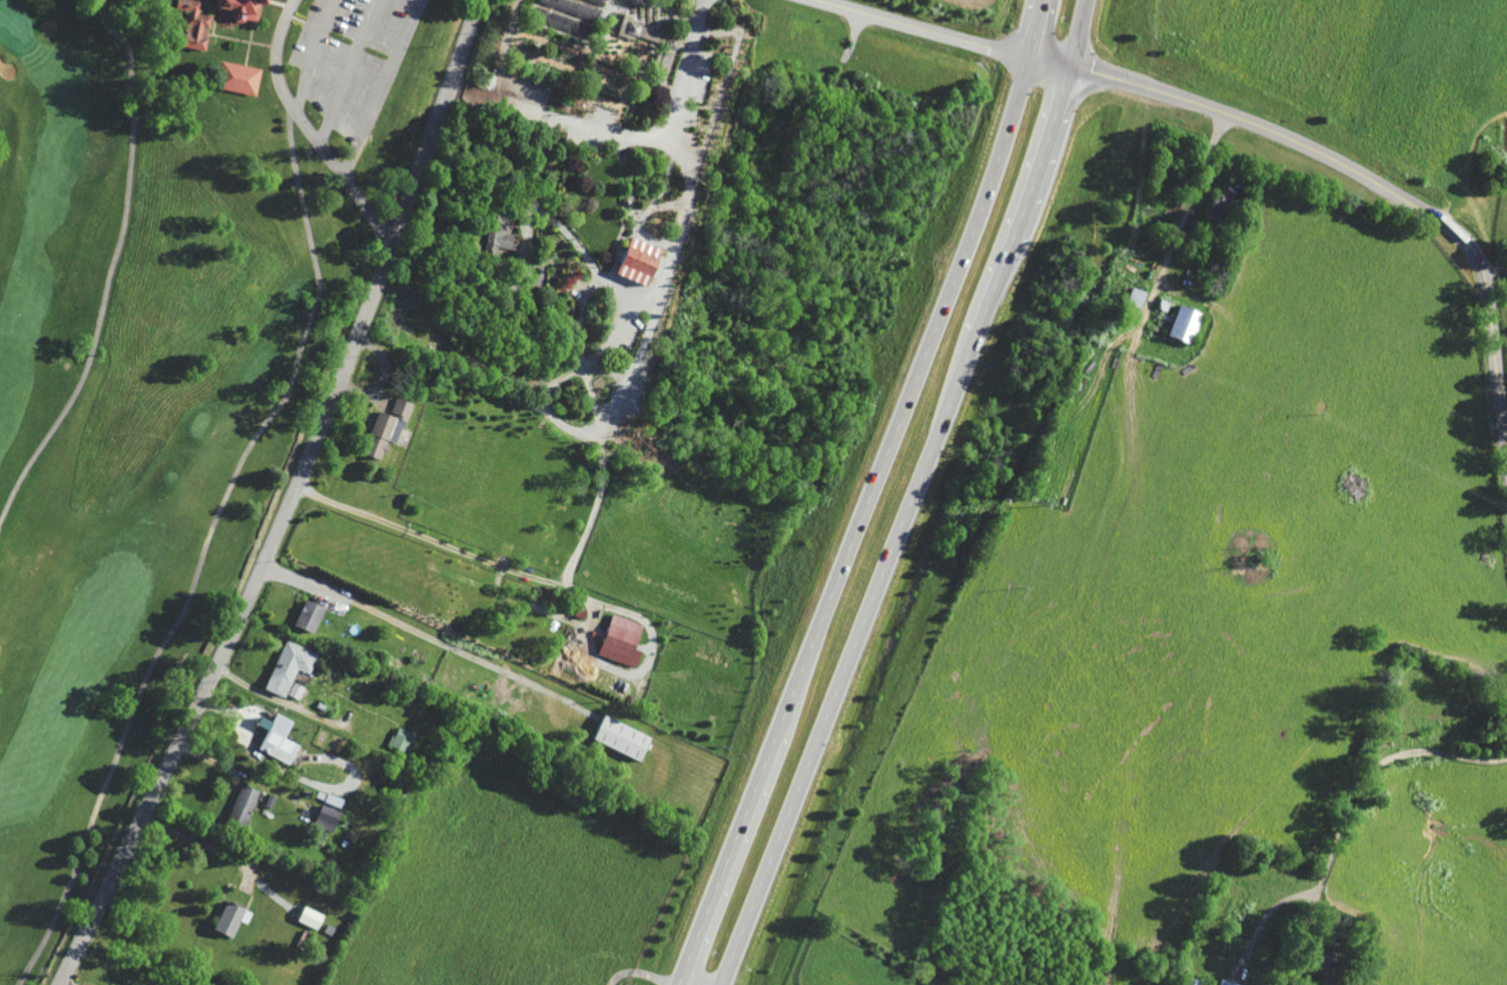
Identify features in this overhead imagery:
building: (232, 8)
road: (1378, 8)
road: (1404, 23)
building: (187, 25)
parking lot: (347, 26)
road: (925, 28)
building: (636, 32)
road: (854, 33)
road: (348, 71)
building: (234, 79)
road: (380, 87)
road: (1356, 88)
road: (308, 128)
road: (648, 136)
road: (1361, 174)
building: (1219, 207)
road: (676, 218)
building: (503, 240)
building: (635, 263)
road: (1494, 270)
building: (1180, 327)
park: (159, 359)
road: (552, 412)
building: (392, 429)
road: (1505, 432)
road: (868, 495)
road: (912, 496)
road: (289, 502)
road: (432, 539)
building: (315, 617)
road: (424, 635)
building: (627, 642)
building: (295, 668)
road: (260, 691)
building: (627, 738)
building: (284, 740)
building: (406, 740)
building: (338, 801)
building: (248, 805)
building: (333, 818)
road: (1344, 818)
road: (202, 844)
building: (237, 919)
road: (640, 972)
road: (61, 983)
building: (1222, 983)
building: (1181, 984)
building: (1189, 984)

